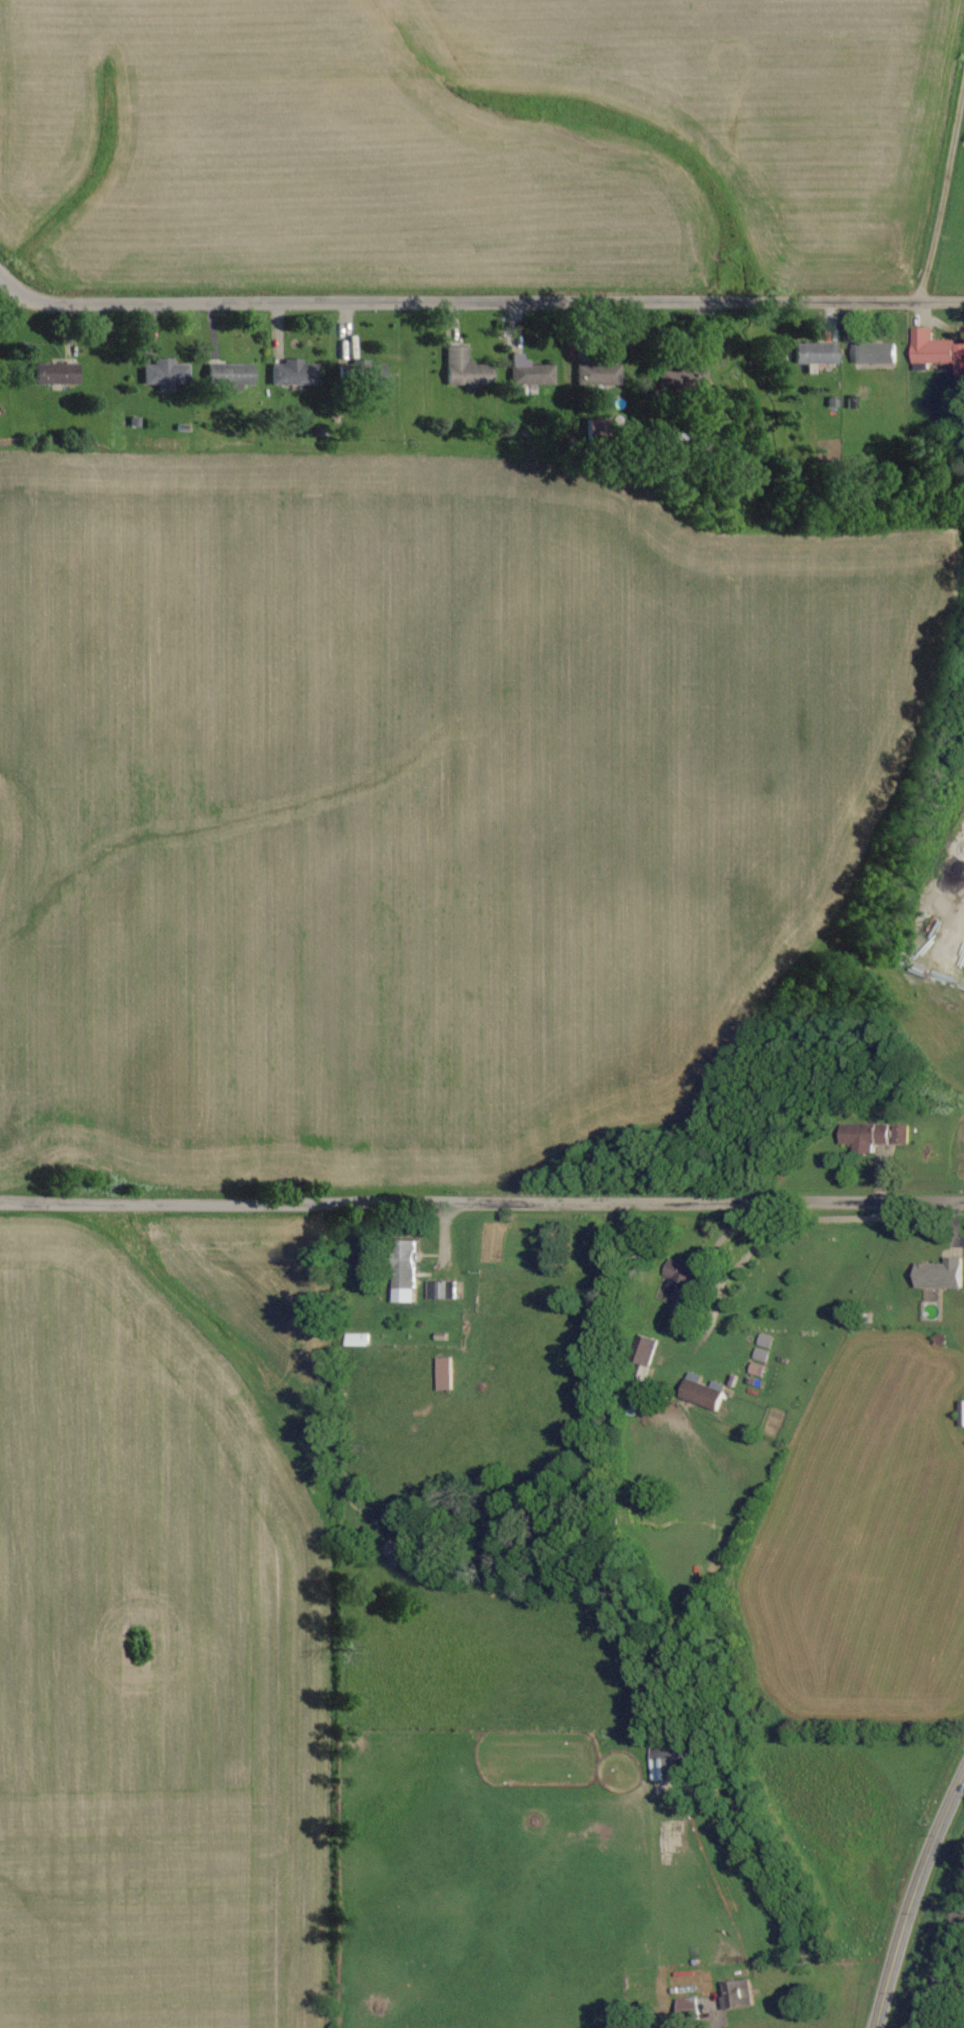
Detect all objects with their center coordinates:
road: (940, 181)
road: (21, 258)
road: (496, 306)
building: (936, 351)
building: (872, 352)
building: (813, 354)
building: (463, 369)
building: (529, 372)
building: (291, 373)
building: (53, 374)
building: (163, 374)
building: (597, 374)
building: (227, 375)
building: (899, 1135)
building: (861, 1136)
road: (482, 1197)
building: (403, 1272)
building: (681, 1273)
building: (938, 1275)
building: (680, 1304)
building: (355, 1340)
building: (642, 1351)
building: (755, 1370)
building: (960, 1414)
road: (910, 1892)
railway: (940, 1955)
building: (737, 1994)
building: (686, 2005)

